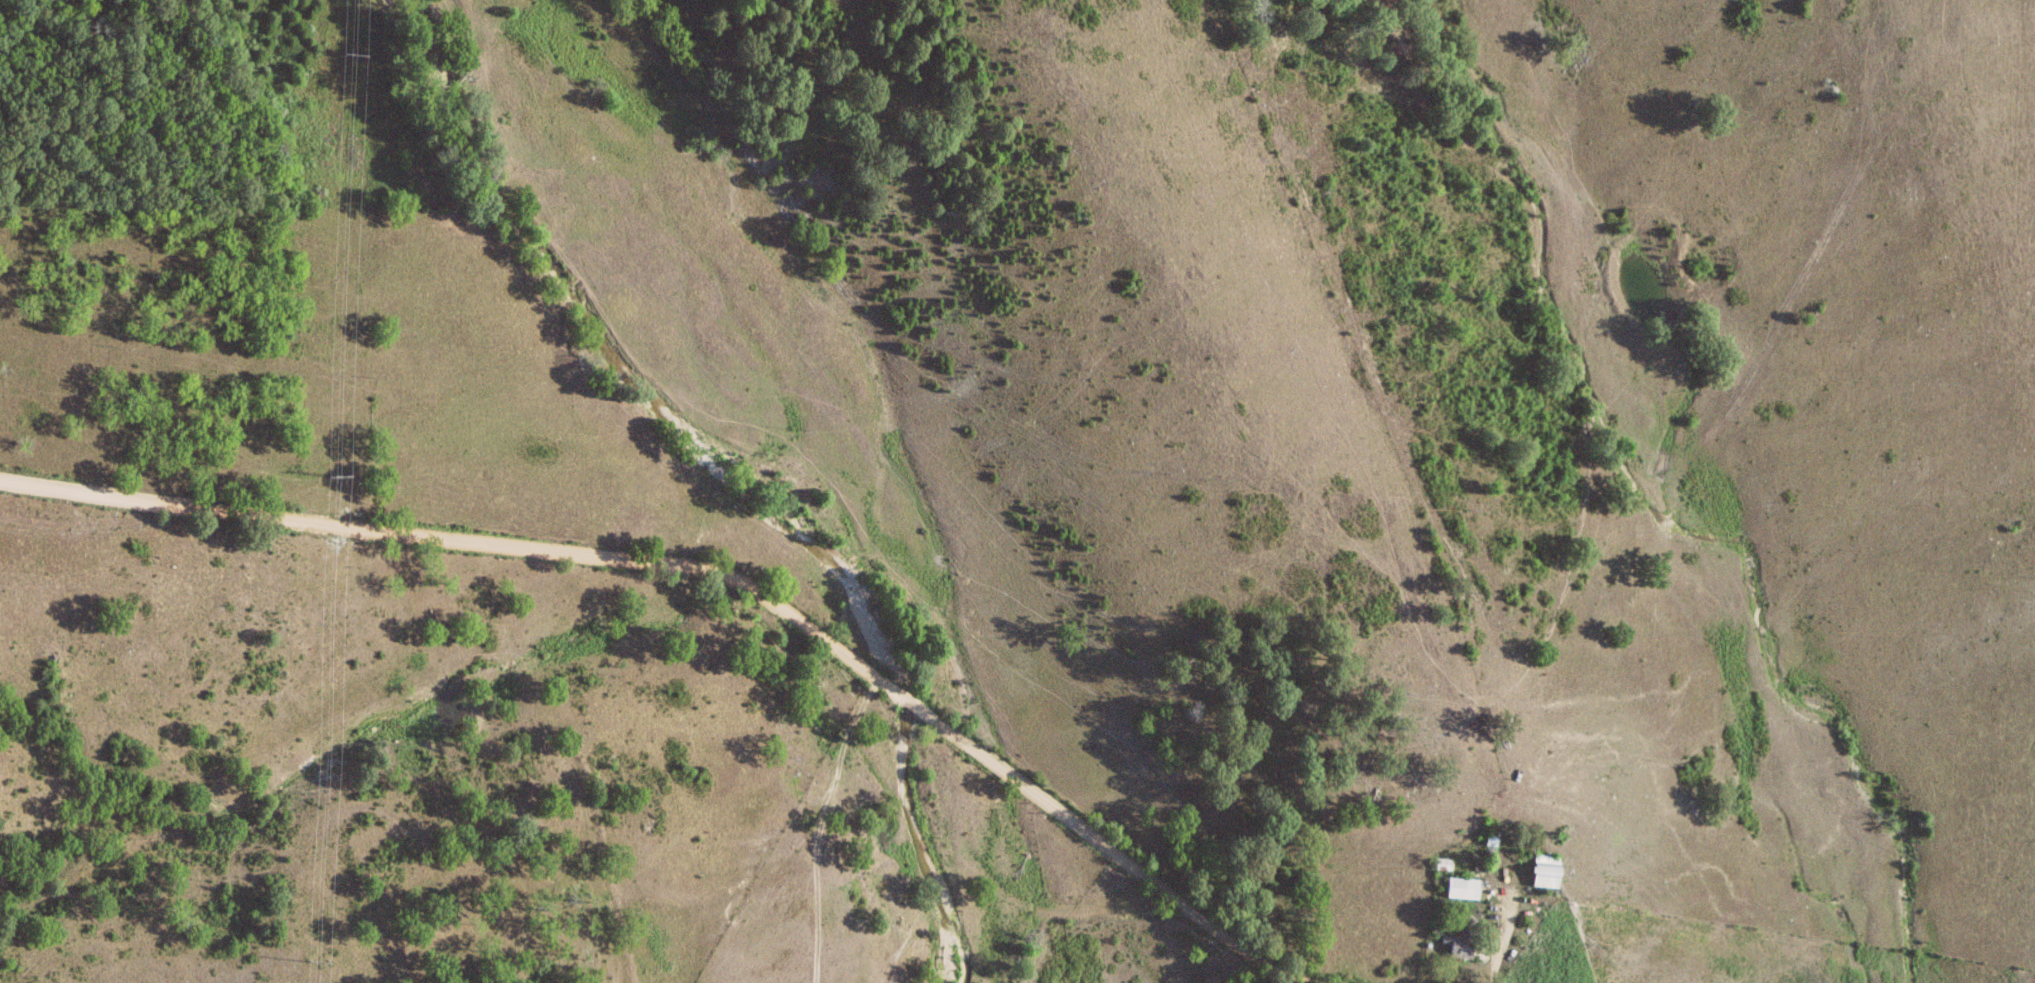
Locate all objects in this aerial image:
power tower: (354, 56)
power tower: (336, 478)
road: (716, 570)
building: (1548, 875)
building: (1465, 890)
road: (1508, 934)

